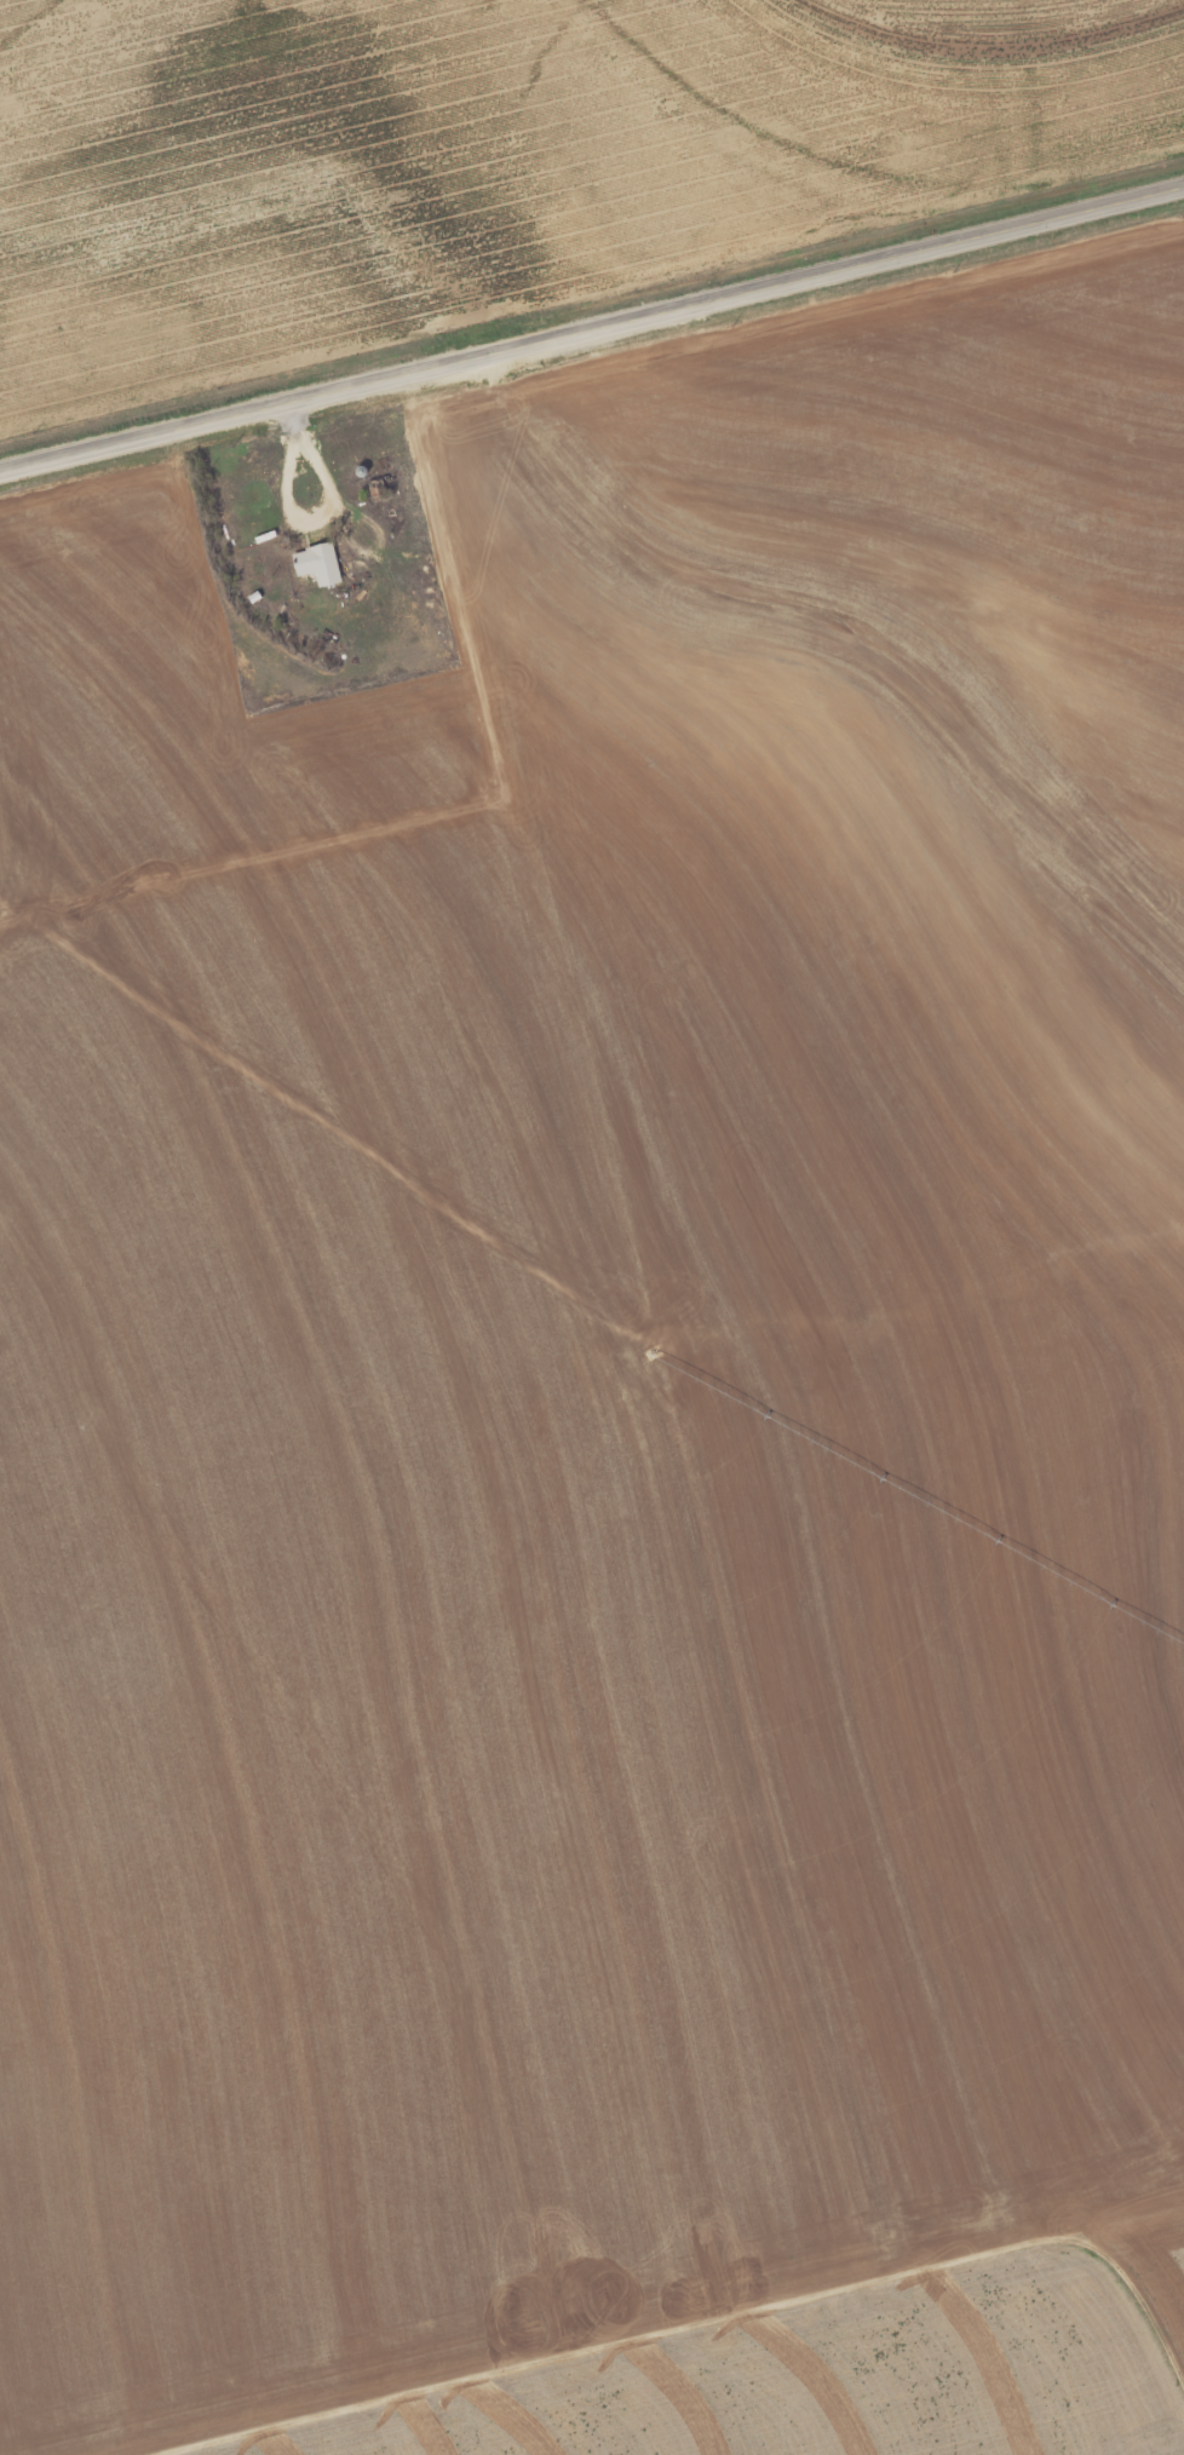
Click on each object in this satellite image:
road: (591, 323)
building: (316, 560)
road: (709, 2340)

